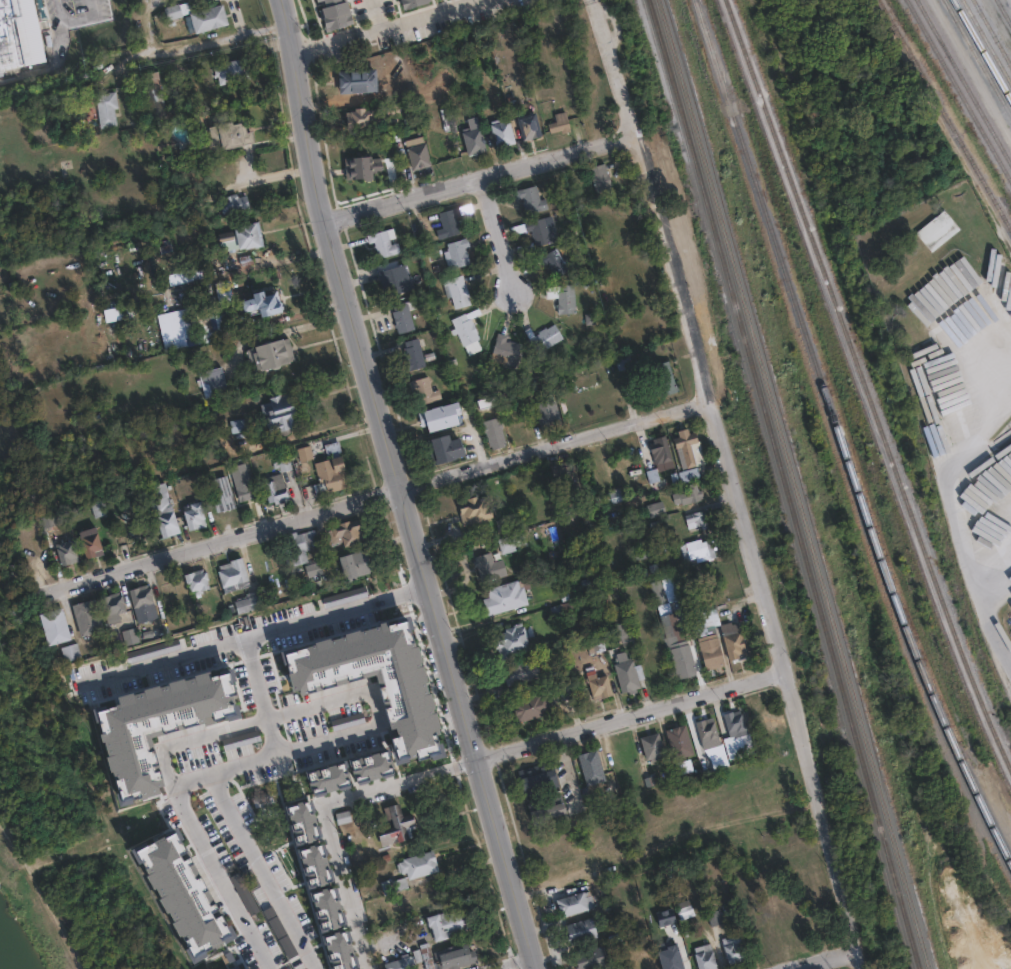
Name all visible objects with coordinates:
building: (320, 0)
building: (406, 2)
building: (3, 5)
building: (173, 11)
building: (333, 12)
railway: (1003, 13)
building: (208, 18)
road: (81, 19)
road: (387, 26)
building: (30, 34)
railway: (991, 34)
railway: (986, 42)
building: (10, 46)
road: (169, 47)
railway: (981, 51)
railway: (976, 60)
road: (54, 61)
building: (230, 72)
road: (613, 73)
building: (356, 77)
railway: (964, 83)
building: (153, 90)
railway: (958, 92)
building: (106, 102)
building: (361, 114)
railway: (945, 115)
building: (558, 119)
building: (530, 126)
building: (226, 130)
building: (501, 130)
building: (471, 133)
building: (444, 138)
building: (417, 152)
road: (486, 179)
building: (602, 184)
building: (533, 199)
building: (232, 200)
building: (451, 219)
building: (543, 230)
building: (937, 231)
road: (501, 234)
building: (241, 238)
building: (384, 240)
building: (164, 247)
building: (457, 252)
building: (558, 261)
building: (190, 268)
building: (190, 274)
building: (393, 278)
building: (223, 286)
building: (456, 289)
building: (563, 294)
building: (264, 303)
building: (119, 307)
building: (403, 314)
building: (210, 316)
building: (196, 327)
building: (467, 332)
building: (545, 337)
building: (506, 348)
building: (414, 351)
building: (269, 353)
park: (9, 356)
building: (623, 362)
building: (660, 374)
building: (212, 382)
railway: (863, 383)
building: (424, 389)
railway: (859, 397)
building: (281, 414)
building: (87, 417)
building: (438, 417)
building: (547, 417)
building: (242, 426)
building: (493, 433)
railway: (842, 435)
building: (659, 448)
building: (687, 448)
building: (445, 449)
building: (304, 450)
building: (285, 460)
building: (330, 470)
building: (302, 472)
building: (686, 474)
building: (241, 480)
building: (569, 480)
railway: (784, 484)
railway: (793, 484)
building: (276, 487)
road: (395, 487)
building: (219, 489)
building: (685, 491)
road: (392, 493)
building: (613, 496)
building: (652, 506)
building: (99, 508)
building: (160, 508)
building: (474, 510)
building: (193, 514)
building: (695, 516)
building: (127, 520)
building: (59, 523)
building: (505, 523)
building: (350, 532)
building: (89, 541)
building: (509, 542)
building: (302, 545)
building: (700, 549)
building: (646, 550)
building: (67, 552)
road: (760, 562)
building: (357, 565)
building: (487, 565)
building: (315, 569)
building: (235, 576)
building: (197, 581)
building: (669, 588)
building: (612, 595)
building: (659, 596)
building: (504, 598)
building: (143, 603)
building: (250, 605)
building: (372, 606)
building: (115, 607)
building: (87, 616)
building: (54, 626)
building: (132, 636)
building: (623, 636)
building: (732, 637)
building: (513, 641)
building: (706, 642)
building: (678, 644)
building: (72, 652)
road: (174, 659)
building: (523, 673)
building: (367, 674)
building: (625, 674)
building: (595, 682)
road: (372, 707)
building: (531, 707)
building: (733, 721)
building: (705, 729)
road: (555, 737)
building: (677, 739)
building: (387, 740)
road: (190, 742)
building: (649, 744)
road: (272, 753)
building: (331, 759)
building: (588, 765)
building: (282, 770)
building: (540, 778)
building: (549, 810)
building: (290, 812)
building: (345, 822)
building: (396, 828)
building: (418, 864)
park: (55, 871)
road: (260, 872)
road: (346, 885)
building: (394, 885)
building: (421, 895)
road: (37, 902)
building: (572, 902)
building: (684, 909)
building: (319, 916)
building: (714, 916)
building: (444, 924)
building: (579, 930)
building: (733, 949)
building: (424, 956)
building: (588, 957)
building: (704, 957)
building: (453, 958)
building: (672, 960)
road: (831, 960)
road: (509, 963)
building: (399, 964)
building: (643, 964)
park: (840, 966)

